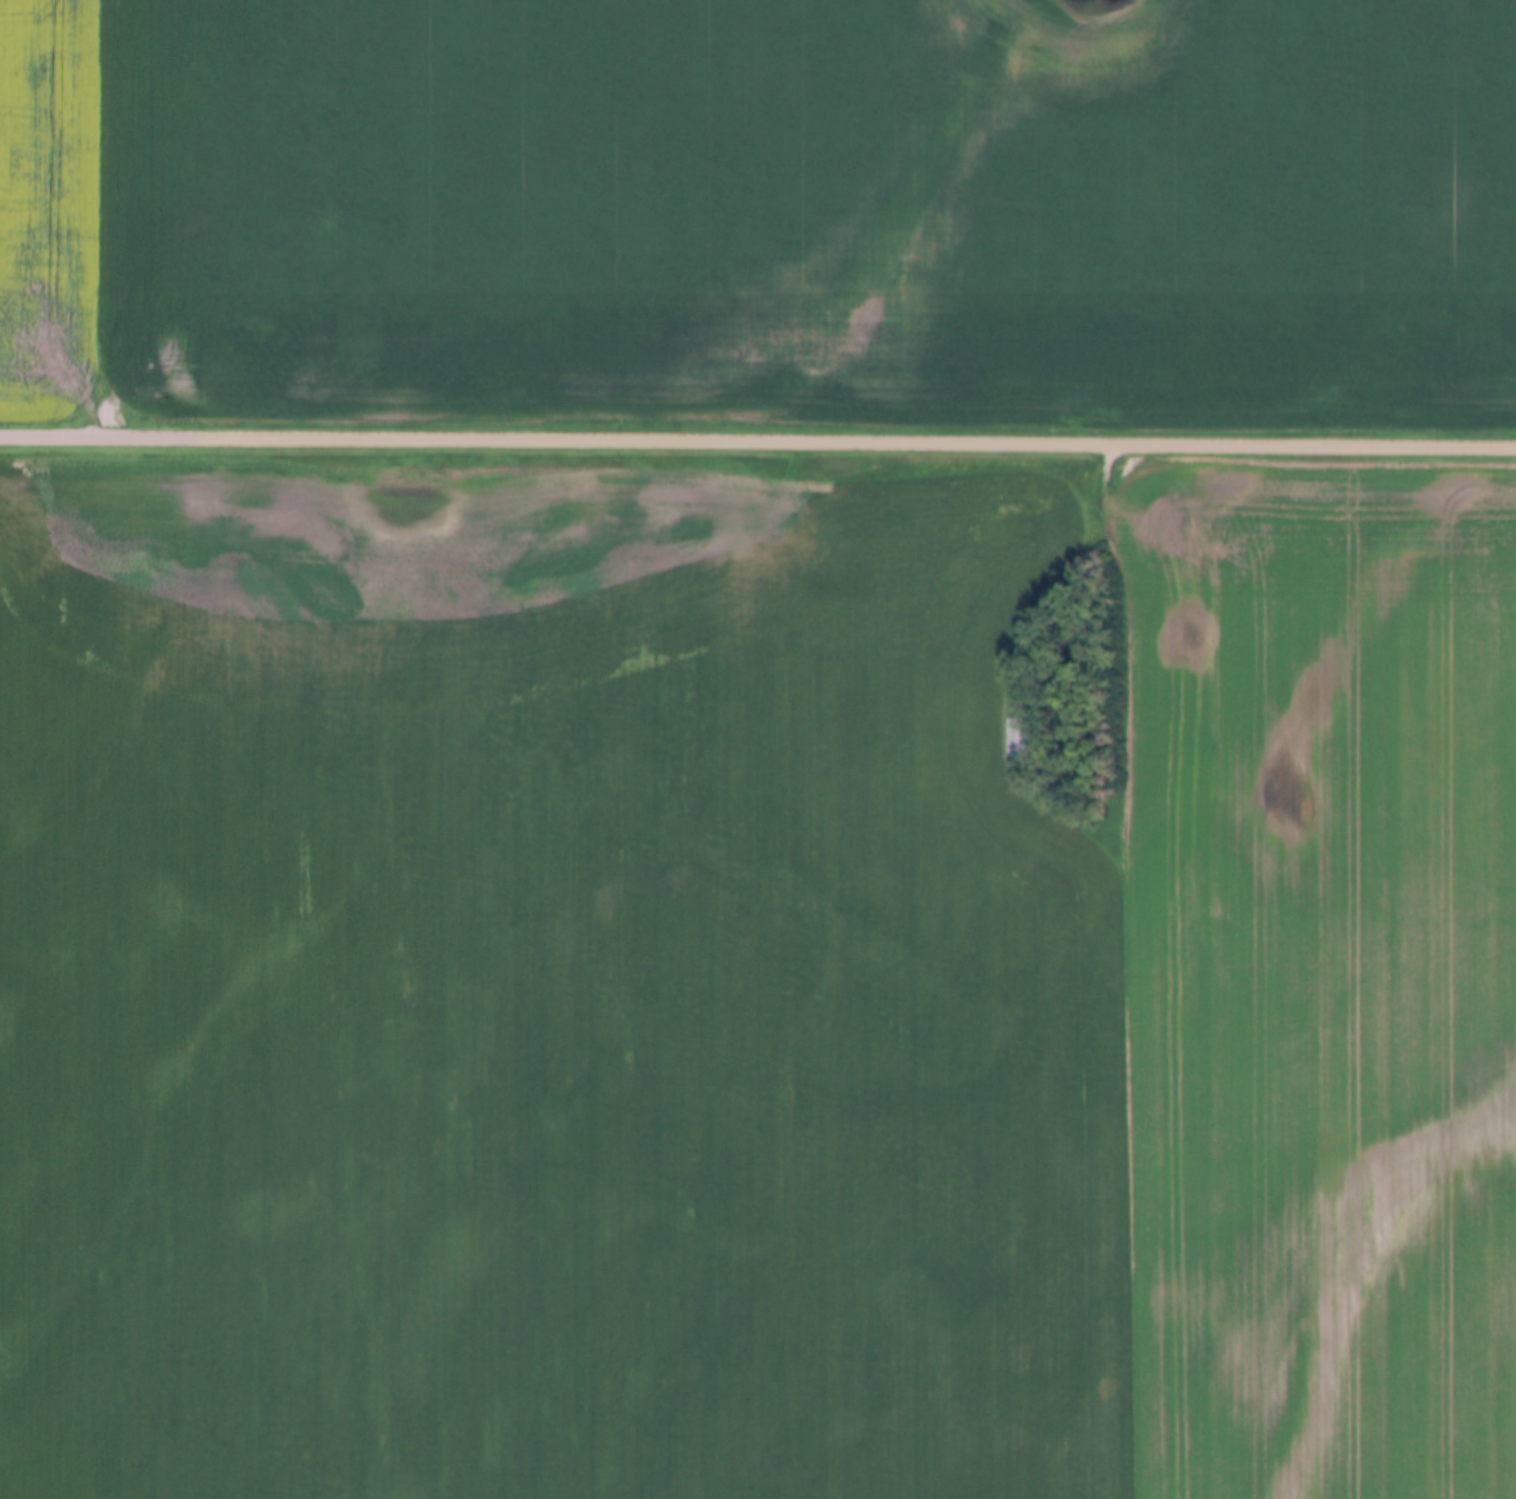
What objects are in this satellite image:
road: (757, 436)
building: (1019, 733)

